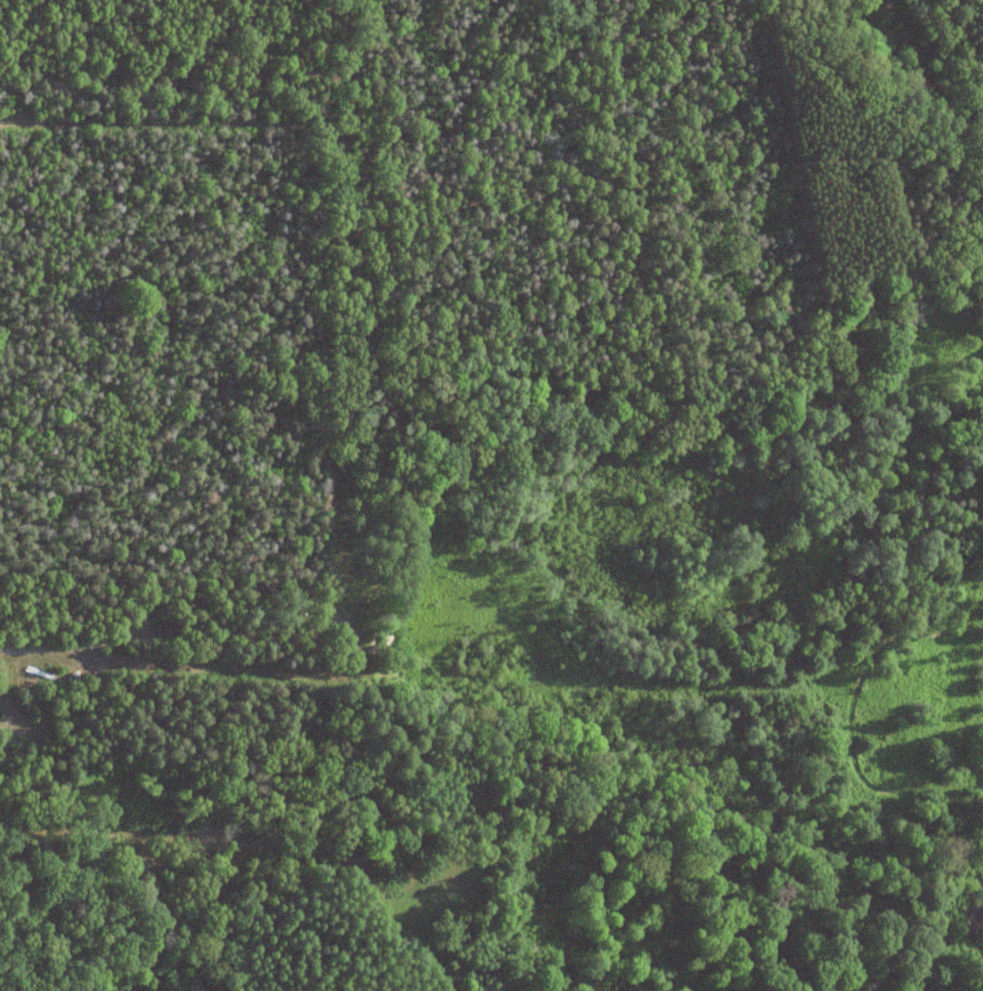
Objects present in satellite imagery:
road: (85, 643)

